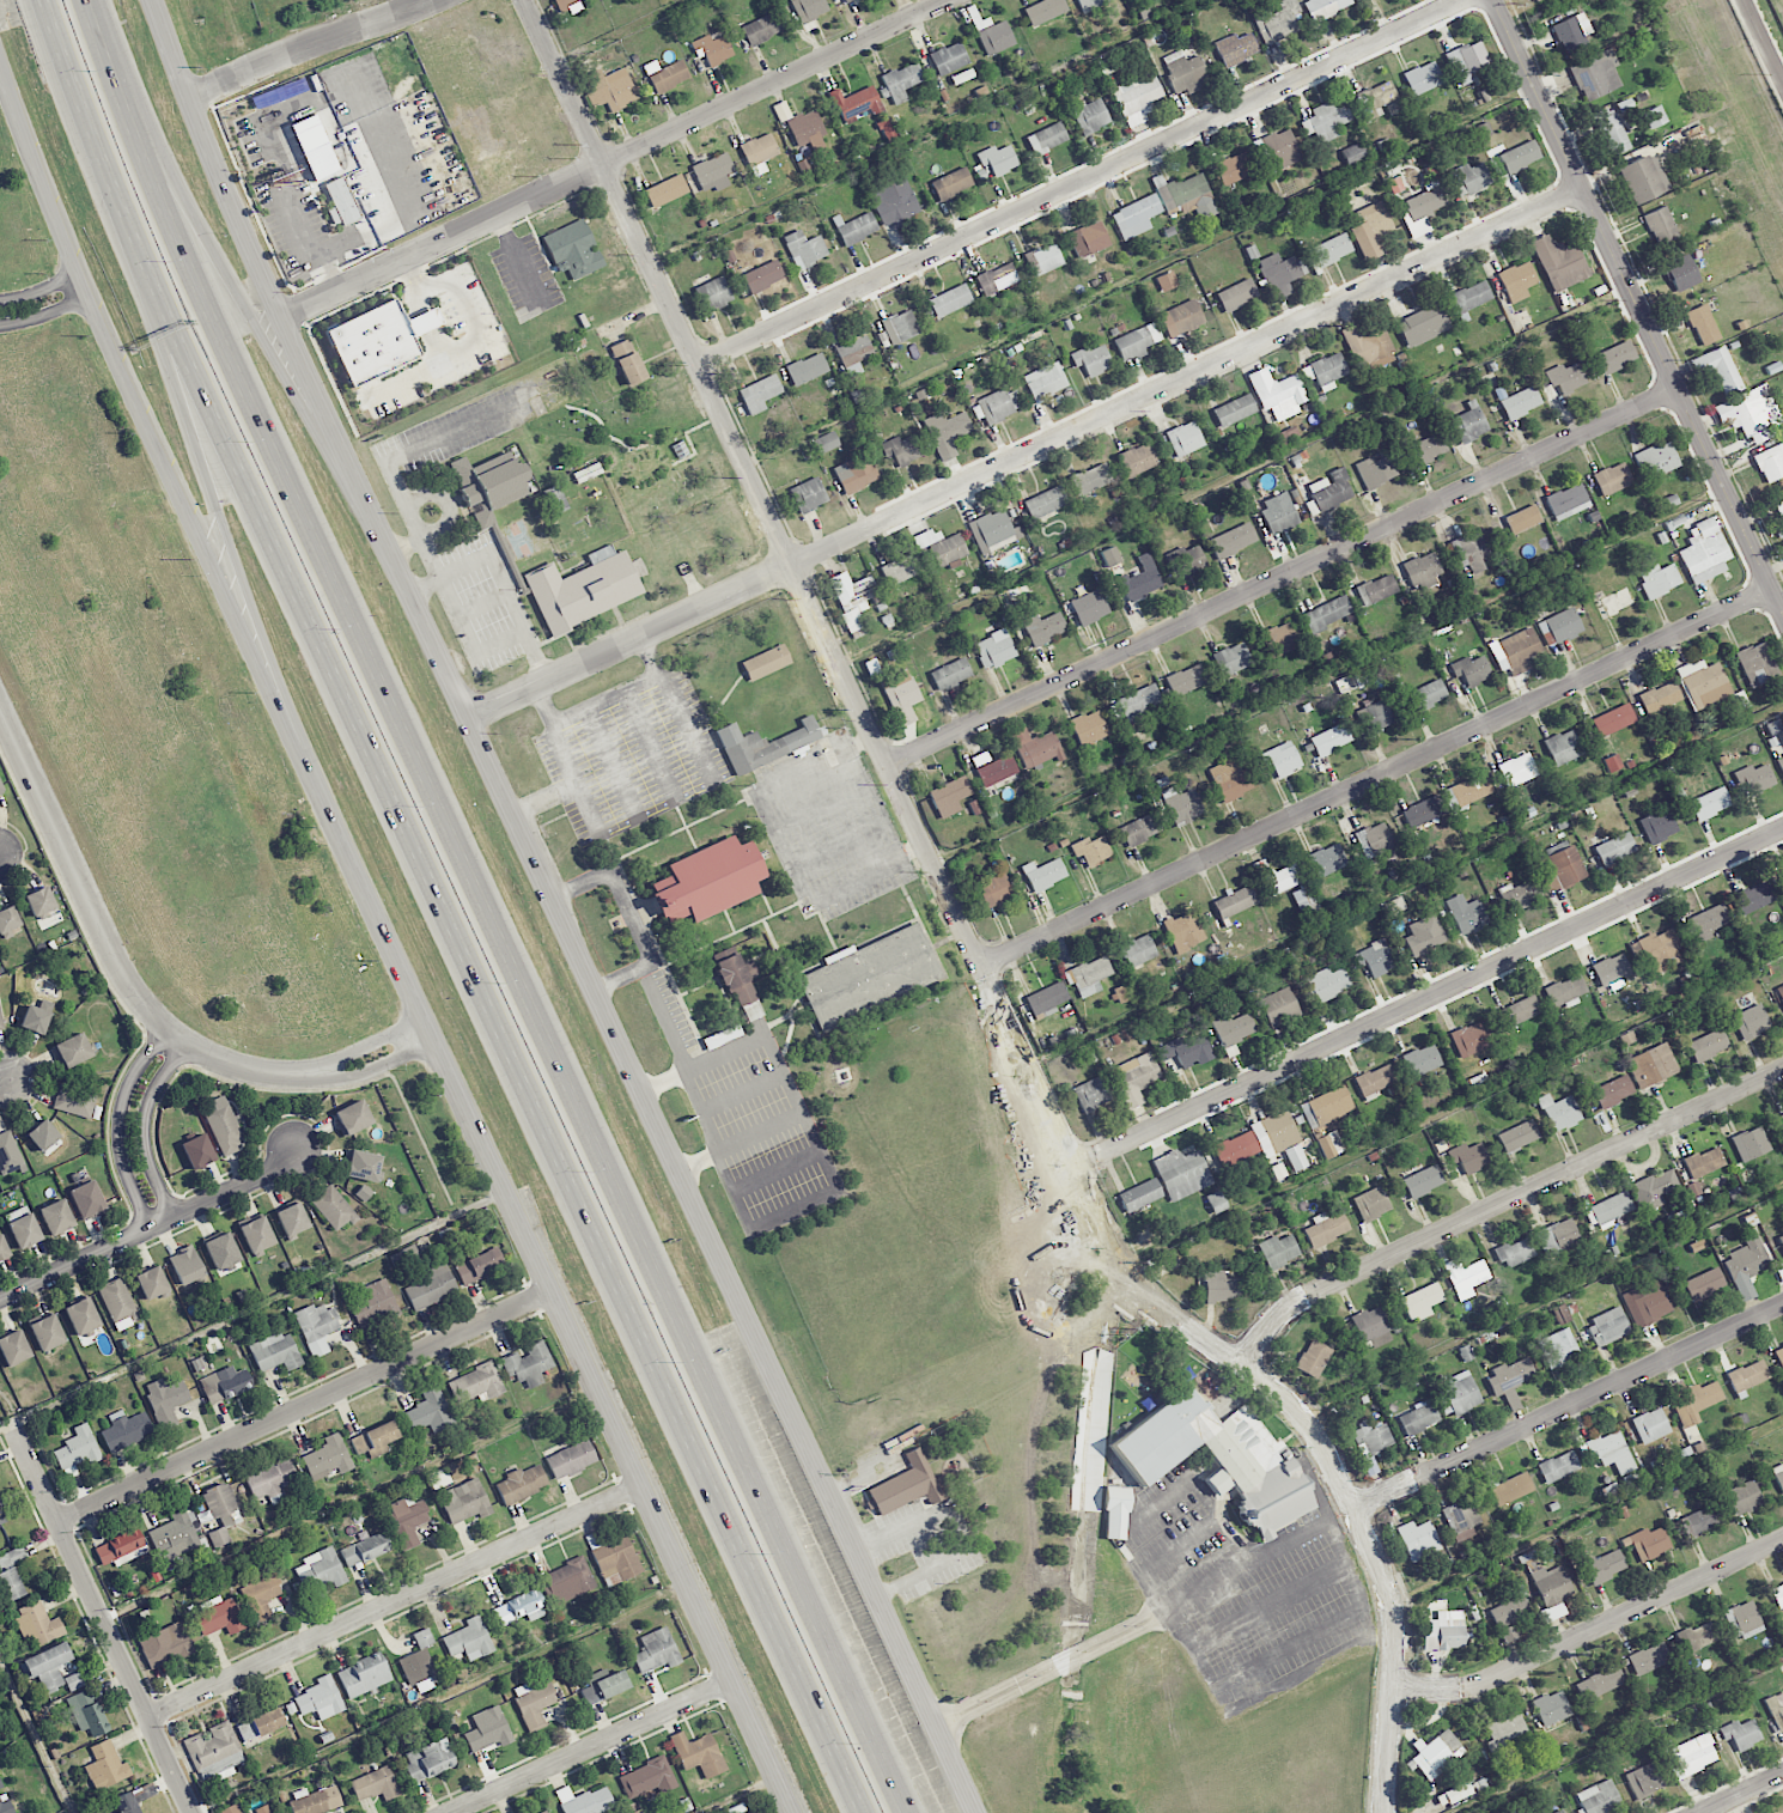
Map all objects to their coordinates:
building: (845, 0)
building: (1535, 0)
building: (1090, 4)
building: (568, 5)
building: (1325, 7)
building: (810, 8)
building: (1043, 11)
building: (1277, 20)
building: (762, 29)
building: (990, 32)
building: (1571, 32)
road: (315, 45)
building: (1235, 48)
building: (712, 49)
building: (944, 60)
building: (1467, 61)
building: (1107, 65)
building: (1185, 71)
building: (665, 74)
building: (1595, 74)
building: (1423, 78)
building: (901, 80)
building: (609, 89)
building: (1137, 97)
building: (1376, 98)
building: (856, 102)
building: (1090, 116)
building: (1654, 116)
building: (1326, 120)
building: (799, 123)
building: (886, 129)
building: (1485, 129)
building: (306, 130)
building: (1611, 134)
building: (1046, 138)
building: (1278, 148)
building: (759, 152)
building: (1353, 153)
building: (1520, 156)
road: (613, 160)
building: (997, 160)
building: (321, 164)
building: (1234, 168)
building: (713, 171)
building: (1469, 178)
building: (1643, 178)
road: (111, 181)
building: (951, 183)
road: (1083, 184)
building: (1395, 184)
building: (665, 190)
building: (1186, 194)
building: (340, 200)
building: (893, 201)
building: (1423, 202)
building: (1136, 217)
building: (1660, 225)
building: (854, 227)
building: (1370, 229)
building: (1088, 238)
building: (572, 248)
building: (804, 248)
building: (1332, 249)
building: (1252, 251)
road: (225, 255)
building: (1047, 257)
building: (1559, 262)
building: (1280, 273)
building: (1681, 273)
building: (762, 276)
building: (997, 278)
building: (1167, 280)
building: (1517, 280)
road: (41, 288)
building: (713, 293)
building: (1236, 294)
building: (1469, 296)
building: (949, 300)
road: (1639, 303)
road: (45, 314)
building: (1181, 317)
building: (1422, 324)
building: (1703, 324)
building: (900, 326)
road: (108, 339)
building: (1137, 341)
building: (371, 342)
building: (1367, 346)
building: (853, 353)
building: (1614, 357)
building: (1091, 359)
building: (627, 361)
building: (1772, 367)
building: (807, 369)
building: (1718, 369)
building: (1325, 370)
building: (1565, 377)
building: (1045, 381)
building: (759, 393)
building: (1276, 395)
building: (1520, 402)
building: (999, 404)
building: (1234, 409)
building: (1751, 413)
building: (1468, 422)
building: (947, 432)
building: (1286, 436)
building: (1185, 438)
building: (826, 442)
road: (416, 448)
building: (1428, 448)
building: (902, 449)
road: (1028, 454)
building: (1137, 458)
building: (1656, 460)
building: (1770, 462)
building: (1375, 470)
building: (856, 473)
building: (1091, 477)
building: (1612, 479)
road: (212, 482)
building: (489, 483)
road: (280, 488)
building: (1331, 489)
building: (808, 494)
building: (555, 499)
building: (1045, 501)
building: (1566, 501)
building: (1668, 501)
building: (1779, 507)
building: (1278, 512)
building: (1522, 518)
building: (993, 531)
building: (1233, 540)
building: (942, 547)
building: (1469, 550)
building: (1703, 552)
building: (1109, 556)
building: (1782, 556)
road: (433, 559)
building: (1186, 559)
building: (901, 568)
building: (1422, 570)
road: (1284, 577)
building: (1140, 579)
building: (1659, 579)
building: (583, 588)
building: (1376, 589)
building: (852, 600)
building: (1089, 607)
building: (1327, 613)
building: (1559, 626)
building: (1043, 627)
building: (1280, 638)
road: (487, 649)
building: (994, 649)
building: (1519, 650)
building: (1231, 658)
building: (765, 662)
building: (1757, 664)
building: (871, 667)
building: (1471, 669)
road: (325, 671)
building: (950, 674)
building: (1186, 679)
building: (1702, 682)
building: (901, 694)
building: (1425, 695)
building: (1660, 698)
road: (603, 699)
building: (1738, 699)
building: (1138, 702)
building: (1374, 717)
building: (1613, 719)
building: (1088, 728)
building: (1329, 738)
building: (765, 744)
building: (1034, 747)
building: (1563, 747)
building: (1282, 759)
building: (1612, 762)
building: (1779, 762)
building: (992, 767)
building: (1516, 769)
road: (1376, 775)
building: (1231, 779)
building: (1753, 779)
road: (570, 783)
building: (0, 789)
building: (1466, 791)
building: (949, 796)
building: (1708, 803)
building: (1181, 804)
road: (856, 809)
building: (1423, 810)
road: (334, 817)
building: (1657, 825)
building: (1140, 828)
building: (1376, 839)
building: (1614, 848)
building: (1091, 850)
building: (1327, 859)
building: (1563, 869)
building: (1043, 874)
building: (1782, 874)
building: (1277, 877)
building: (707, 880)
building: (994, 890)
building: (1520, 895)
building: (1758, 895)
building: (39, 901)
building: (1234, 902)
building: (1392, 906)
road: (558, 908)
road: (631, 917)
building: (1468, 917)
building: (7, 919)
building: (1708, 921)
road: (963, 929)
building: (1183, 931)
building: (1424, 935)
building: (1655, 949)
building: (1137, 950)
building: (1375, 957)
building: (1611, 969)
building: (869, 975)
building: (1088, 975)
building: (740, 982)
building: (1327, 982)
building: (1564, 990)
building: (1781, 991)
building: (1119, 993)
road: (1429, 996)
road: (136, 997)
building: (1046, 998)
building: (1278, 1006)
building: (1517, 1011)
building: (36, 1016)
building: (1751, 1021)
building: (0, 1023)
road: (668, 1027)
building: (1231, 1029)
building: (1468, 1039)
building: (1708, 1045)
building: (72, 1050)
building: (1186, 1051)
building: (1419, 1060)
building: (1651, 1065)
building: (1134, 1078)
building: (1374, 1079)
road: (6, 1082)
road: (665, 1083)
building: (1612, 1091)
building: (1091, 1093)
building: (74, 1100)
building: (1326, 1107)
building: (1558, 1112)
building: (352, 1117)
building: (1781, 1117)
road: (118, 1125)
building: (224, 1125)
road: (146, 1128)
building: (42, 1134)
road: (810, 1134)
building: (1519, 1136)
building: (1258, 1139)
building: (1749, 1143)
building: (1329, 1144)
building: (197, 1151)
building: (8, 1154)
building: (1468, 1156)
building: (1295, 1157)
building: (1704, 1162)
building: (363, 1166)
building: (1182, 1173)
building: (1423, 1181)
building: (1653, 1190)
building: (363, 1192)
building: (1139, 1194)
building: (86, 1200)
building: (1216, 1201)
building: (1371, 1203)
road: (1499, 1203)
building: (334, 1207)
building: (1607, 1210)
building: (56, 1216)
building: (292, 1218)
road: (152, 1225)
building: (1326, 1228)
building: (24, 1230)
building: (256, 1234)
building: (1558, 1236)
building: (1778, 1245)
building: (2, 1248)
building: (1278, 1251)
building: (1515, 1252)
building: (1745, 1265)
building: (479, 1266)
building: (187, 1267)
building: (1465, 1277)
building: (151, 1282)
building: (1703, 1284)
building: (431, 1286)
building: (1222, 1286)
road: (1540, 1297)
building: (1420, 1301)
building: (118, 1303)
building: (373, 1303)
building: (1645, 1303)
road: (257, 1308)
building: (1560, 1314)
building: (81, 1316)
building: (316, 1327)
building: (1371, 1327)
building: (1607, 1327)
building: (47, 1332)
building: (13, 1347)
building: (1557, 1349)
building: (275, 1351)
building: (1779, 1357)
building: (1313, 1358)
building: (528, 1364)
building: (1747, 1376)
building: (1509, 1381)
building: (225, 1383)
building: (475, 1383)
road: (696, 1389)
road: (667, 1395)
building: (1692, 1399)
building: (165, 1400)
road: (303, 1404)
road: (1569, 1407)
building: (430, 1412)
building: (1419, 1417)
road: (614, 1419)
building: (1650, 1425)
road: (6, 1426)
building: (126, 1430)
building: (373, 1438)
building: (1370, 1443)
building: (78, 1448)
building: (1611, 1450)
building: (328, 1458)
building: (571, 1459)
building: (1217, 1460)
building: (1557, 1466)
building: (1778, 1476)
building: (272, 1479)
building: (522, 1483)
building: (905, 1485)
building: (1510, 1489)
building: (1744, 1497)
building: (219, 1499)
building: (464, 1501)
building: (869, 1504)
building: (1116, 1514)
building: (1, 1517)
building: (1461, 1519)
building: (407, 1520)
building: (1700, 1520)
road: (960, 1528)
building: (172, 1533)
building: (218, 1537)
road: (1292, 1539)
building: (1418, 1539)
building: (1649, 1543)
building: (121, 1549)
building: (364, 1549)
building: (616, 1559)
building: (1604, 1565)
building: (11, 1572)
building: (320, 1572)
building: (567, 1577)
building: (1551, 1592)
building: (1777, 1593)
building: (261, 1595)
road: (395, 1601)
building: (519, 1607)
road: (1167, 1612)
road: (1162, 1613)
building: (1510, 1614)
building: (218, 1617)
road: (101, 1618)
building: (37, 1623)
building: (1444, 1630)
road: (1592, 1630)
road: (1368, 1633)
building: (1699, 1635)
building: (468, 1641)
building: (165, 1645)
building: (656, 1650)
building: (1648, 1659)
building: (419, 1660)
building: (45, 1666)
road: (1248, 1667)
building: (363, 1675)
building: (73, 1680)
building: (1599, 1684)
building: (603, 1685)
building: (320, 1698)
building: (574, 1699)
building: (534, 1702)
building: (1551, 1708)
building: (1776, 1709)
building: (86, 1712)
building: (260, 1723)
building: (488, 1729)
building: (1505, 1729)
building: (1740, 1733)
road: (588, 1746)
building: (214, 1751)
building: (698, 1753)
building: (1435, 1754)
building: (1692, 1754)
building: (428, 1760)
building: (105, 1766)
building: (647, 1777)
building: (1643, 1779)
building: (375, 1784)
building: (1454, 1794)
road: (1744, 1794)
building: (1598, 1797)
building: (315, 1800)
building: (584, 1800)
building: (5, 1801)
building: (231, 1808)
building: (130, 1809)
building: (262, 1809)
building: (1559, 1811)
building: (543, 1812)
building: (1544, 1812)

